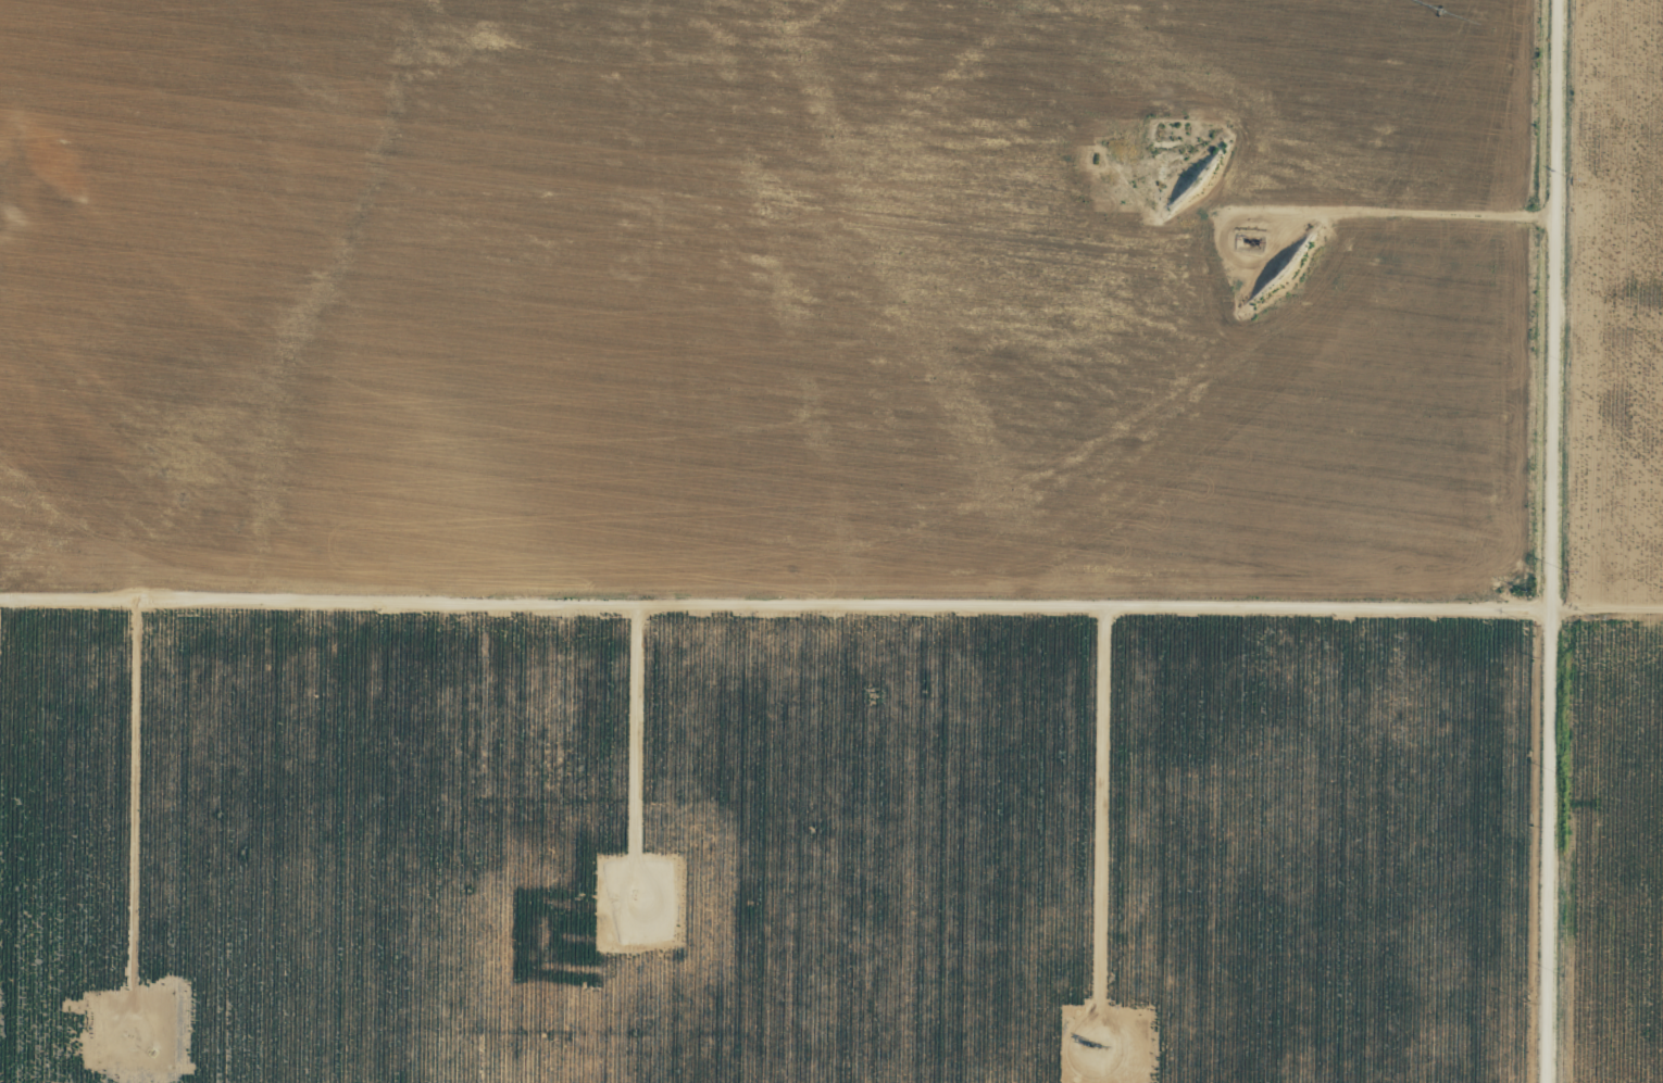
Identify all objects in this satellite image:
road: (1550, 541)
road: (774, 624)
road: (457, 851)
petroleum well: (1090, 1045)

